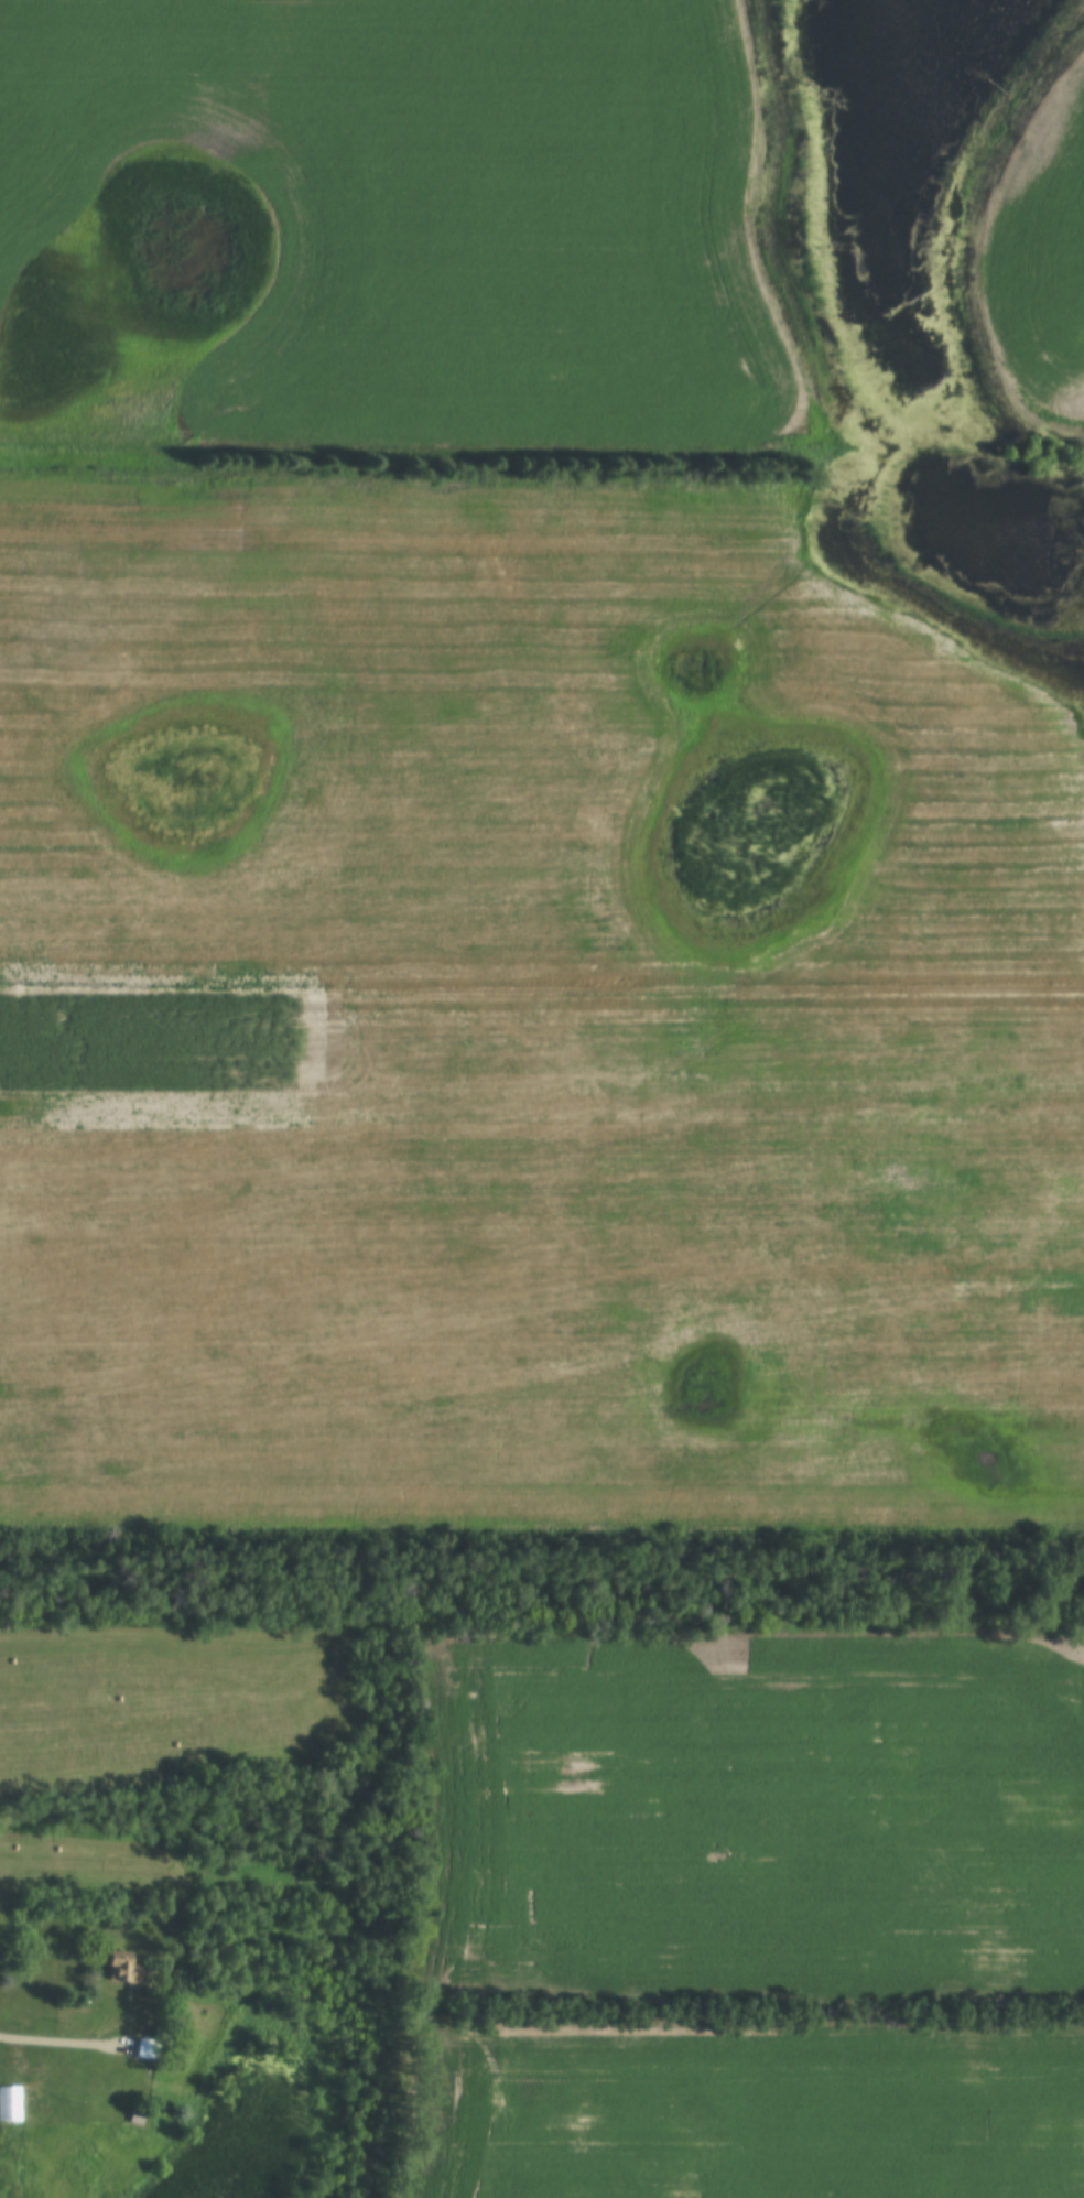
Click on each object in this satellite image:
building: (123, 1963)
road: (63, 2040)
building: (147, 2047)
building: (10, 2101)
building: (135, 2114)

